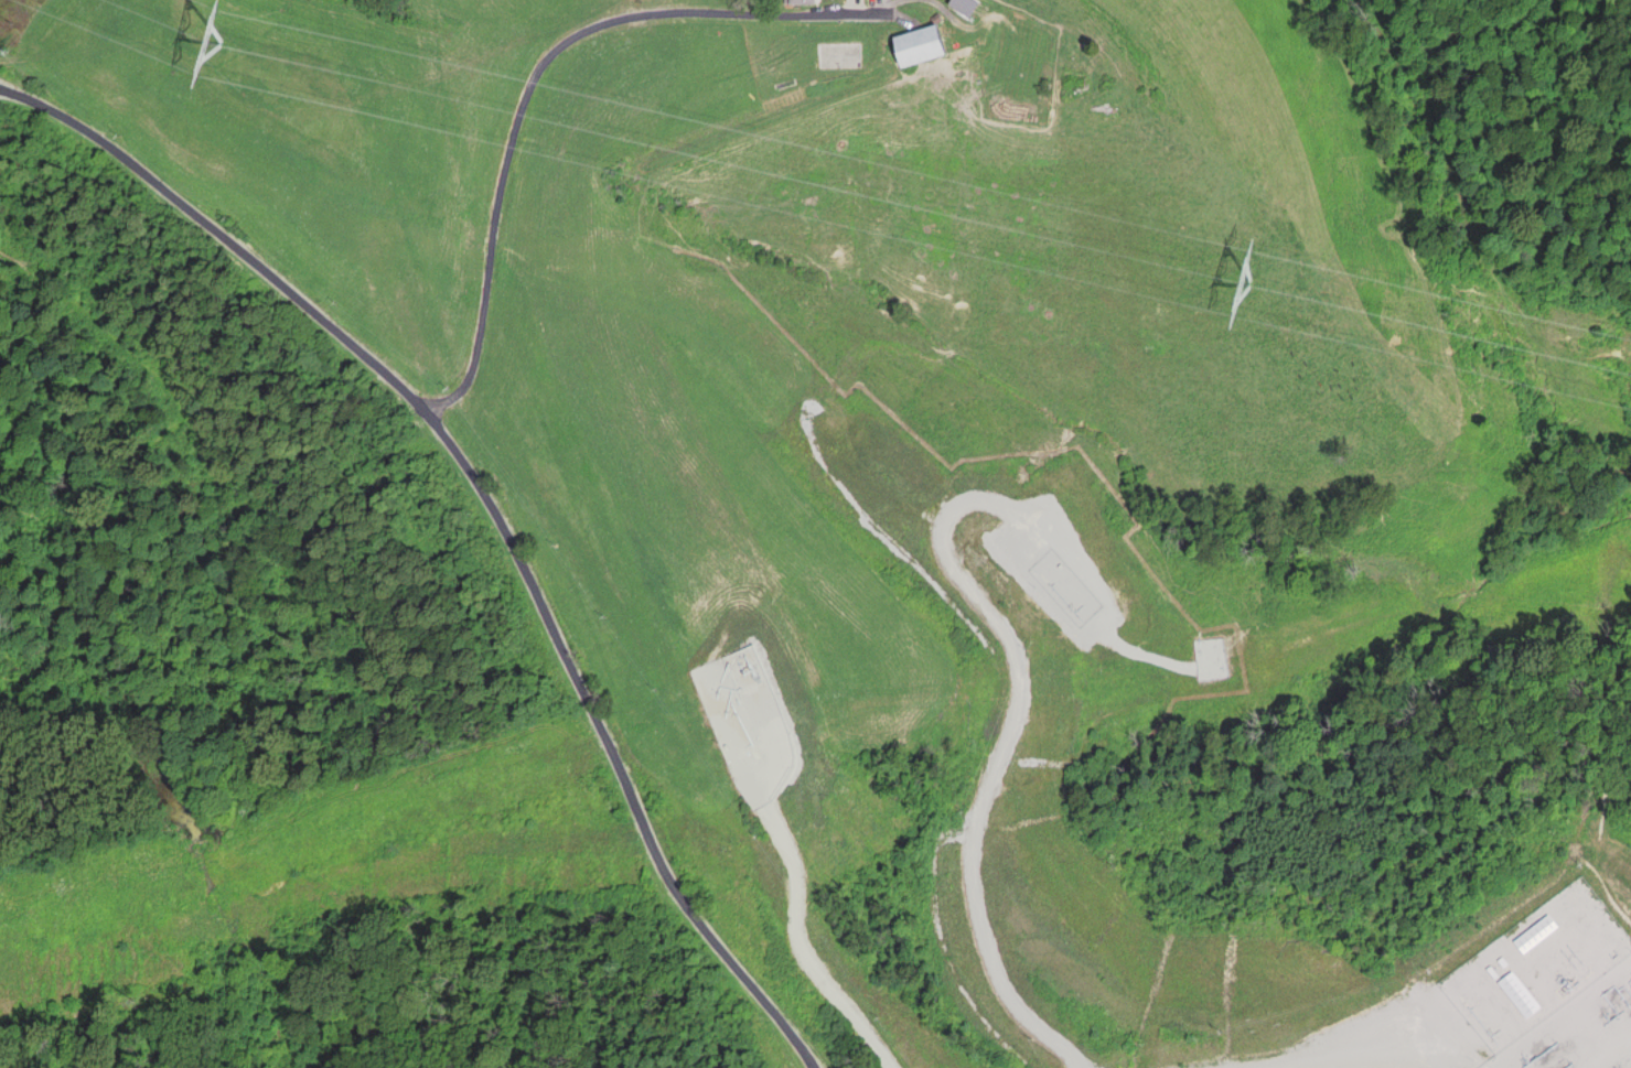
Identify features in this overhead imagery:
building: (795, 2)
building: (961, 7)
power tower: (215, 46)
building: (911, 46)
road: (534, 72)
power tower: (1248, 284)
road: (491, 505)
road: (1008, 637)
road: (787, 878)
road: (1435, 1020)

